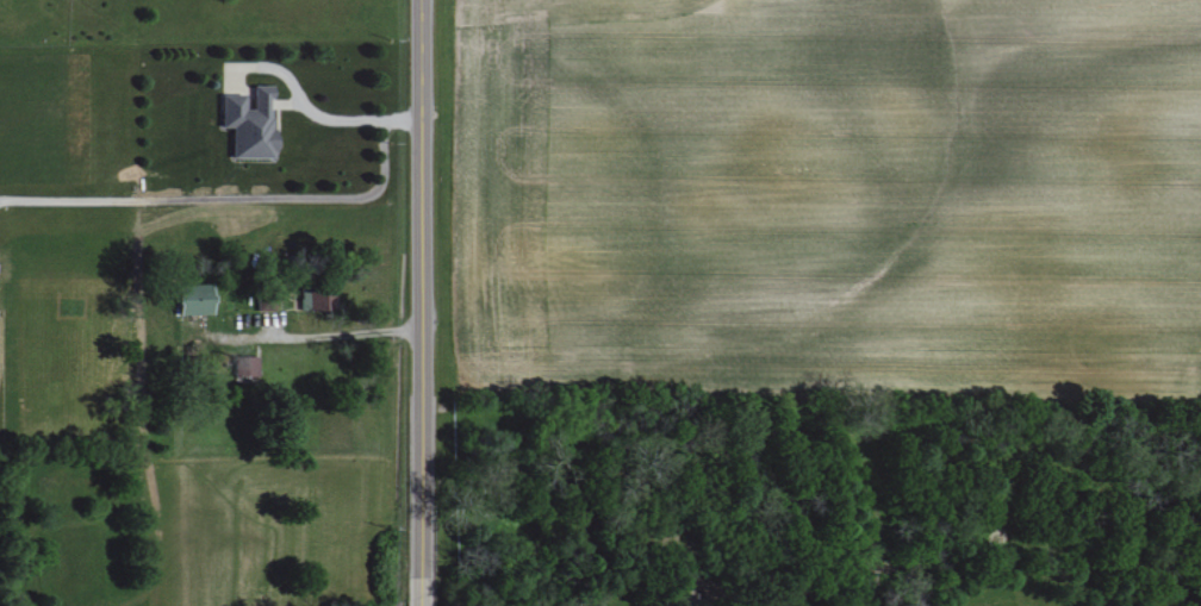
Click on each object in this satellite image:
road: (294, 92)
building: (253, 123)
road: (243, 195)
building: (198, 299)
building: (316, 300)
road: (425, 302)
road: (309, 336)
building: (245, 369)

